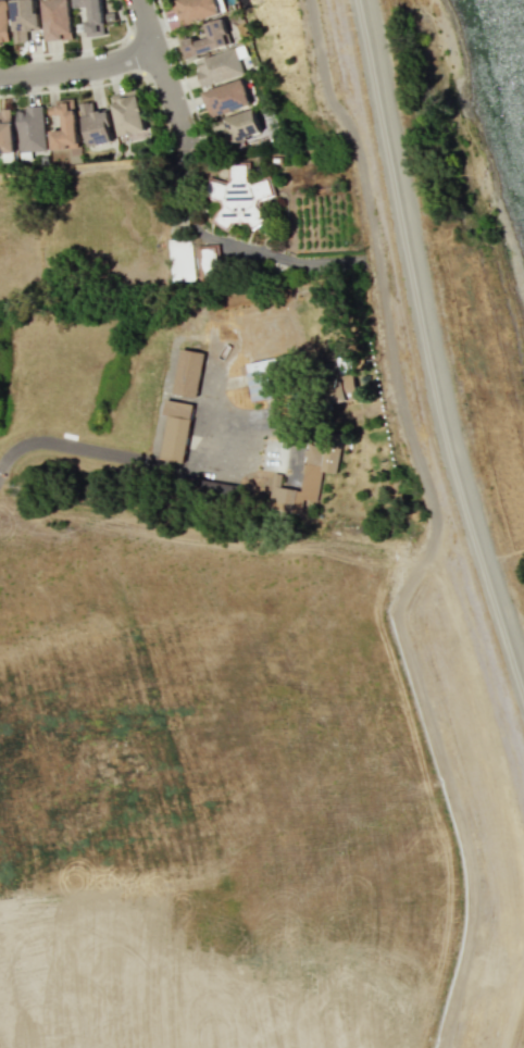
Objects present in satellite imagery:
building: (92, 16)
building: (23, 18)
building: (58, 20)
building: (2, 23)
building: (207, 39)
road: (77, 66)
building: (217, 67)
road: (162, 73)
street lamp: (41, 88)
building: (226, 98)
building: (127, 112)
building: (64, 125)
building: (96, 125)
building: (240, 126)
building: (30, 128)
building: (5, 132)
building: (238, 196)
building: (182, 260)
road: (358, 261)
building: (210, 262)
road: (440, 354)
building: (188, 373)
building: (265, 377)
road: (370, 408)
building: (176, 429)
road: (111, 454)
building: (304, 478)
crop: (202, 784)

